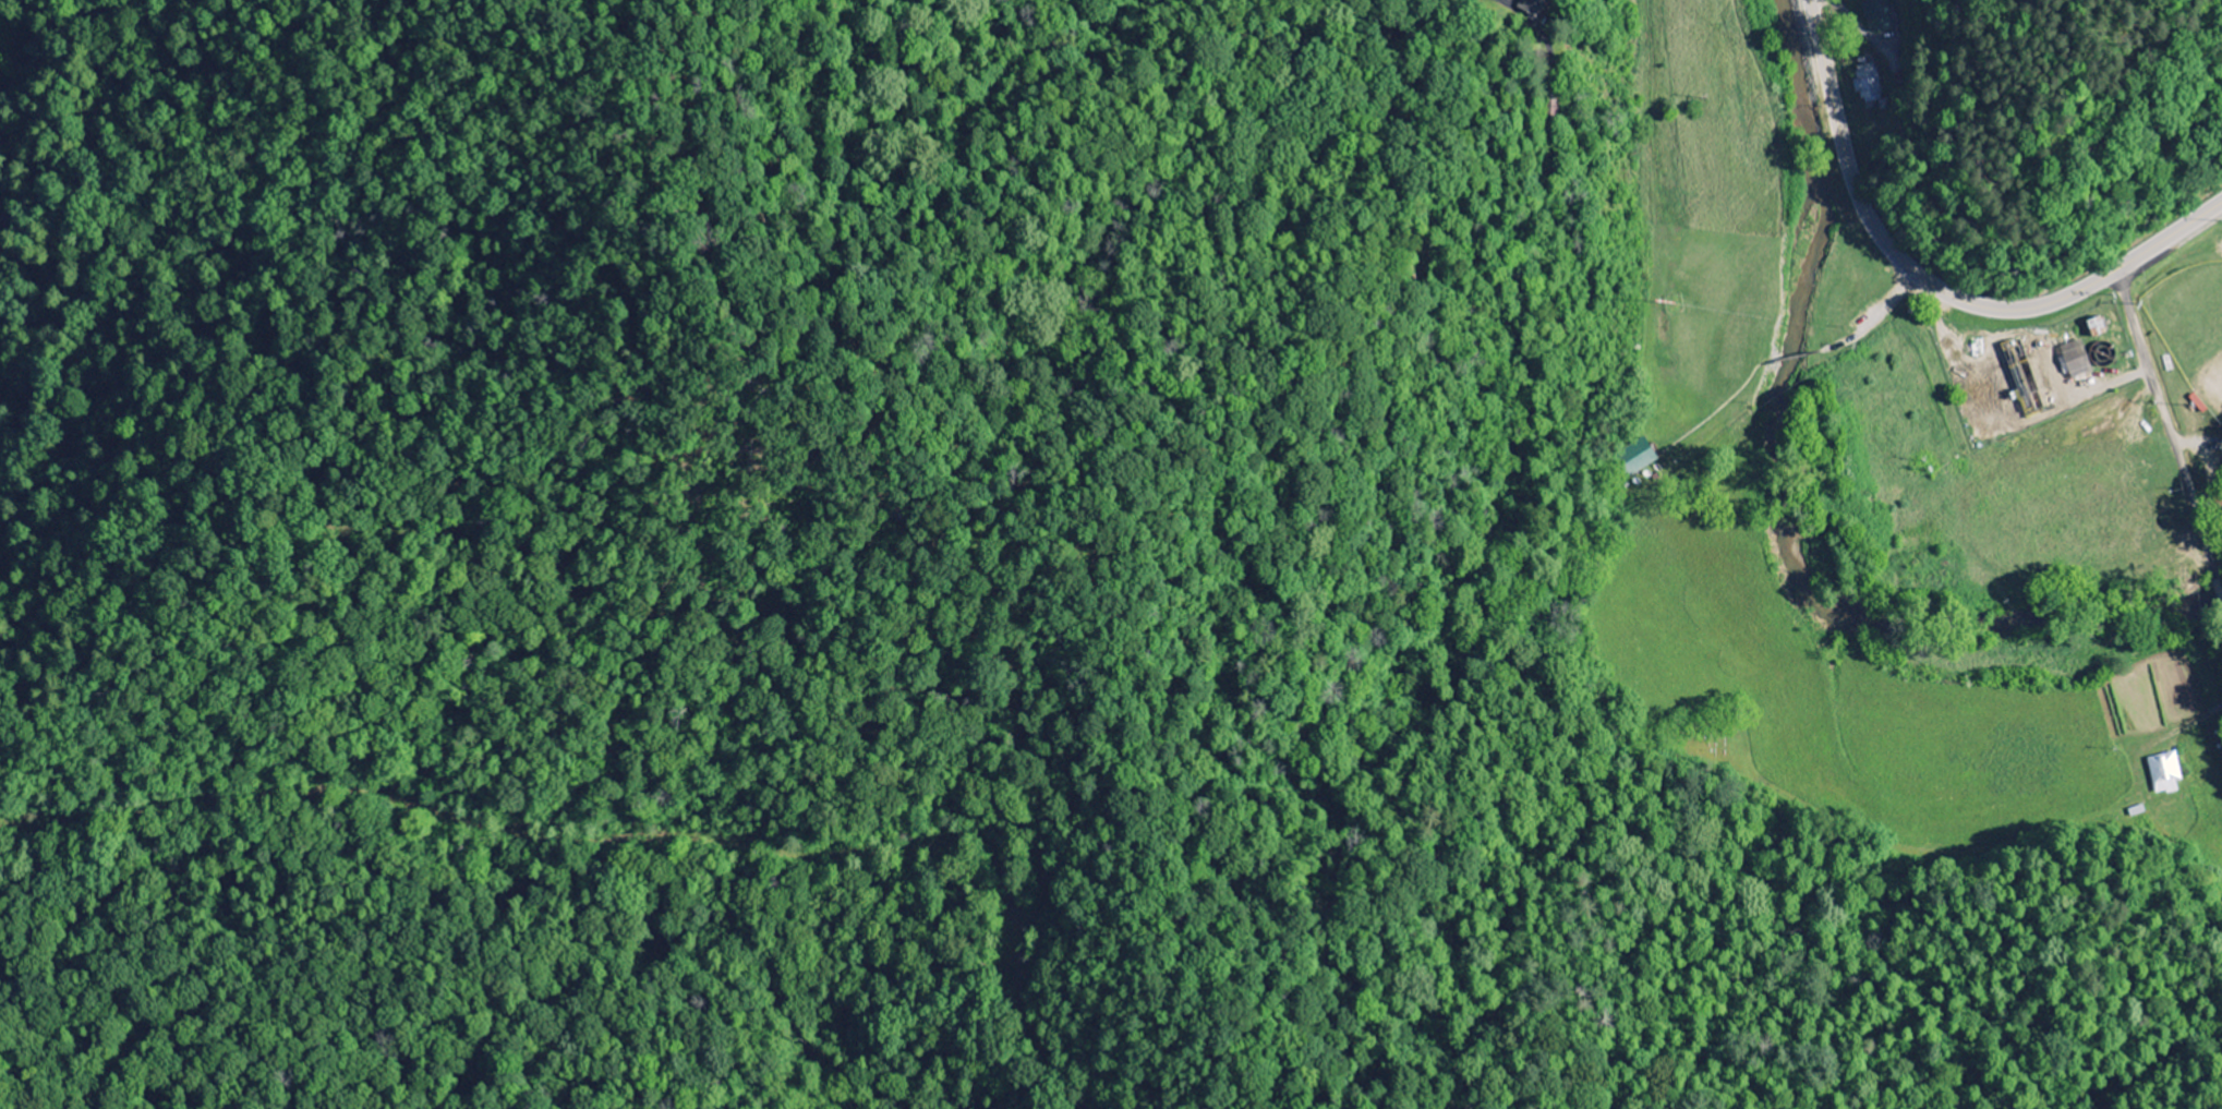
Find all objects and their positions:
building: (1532, 8)
building: (1876, 14)
building: (1867, 84)
road: (1934, 284)
road: (1863, 318)
road: (1783, 357)
building: (2075, 361)
road: (1712, 402)
road: (2169, 421)
building: (1639, 457)
river: (1790, 509)
road: (2219, 582)
building: (2164, 773)

